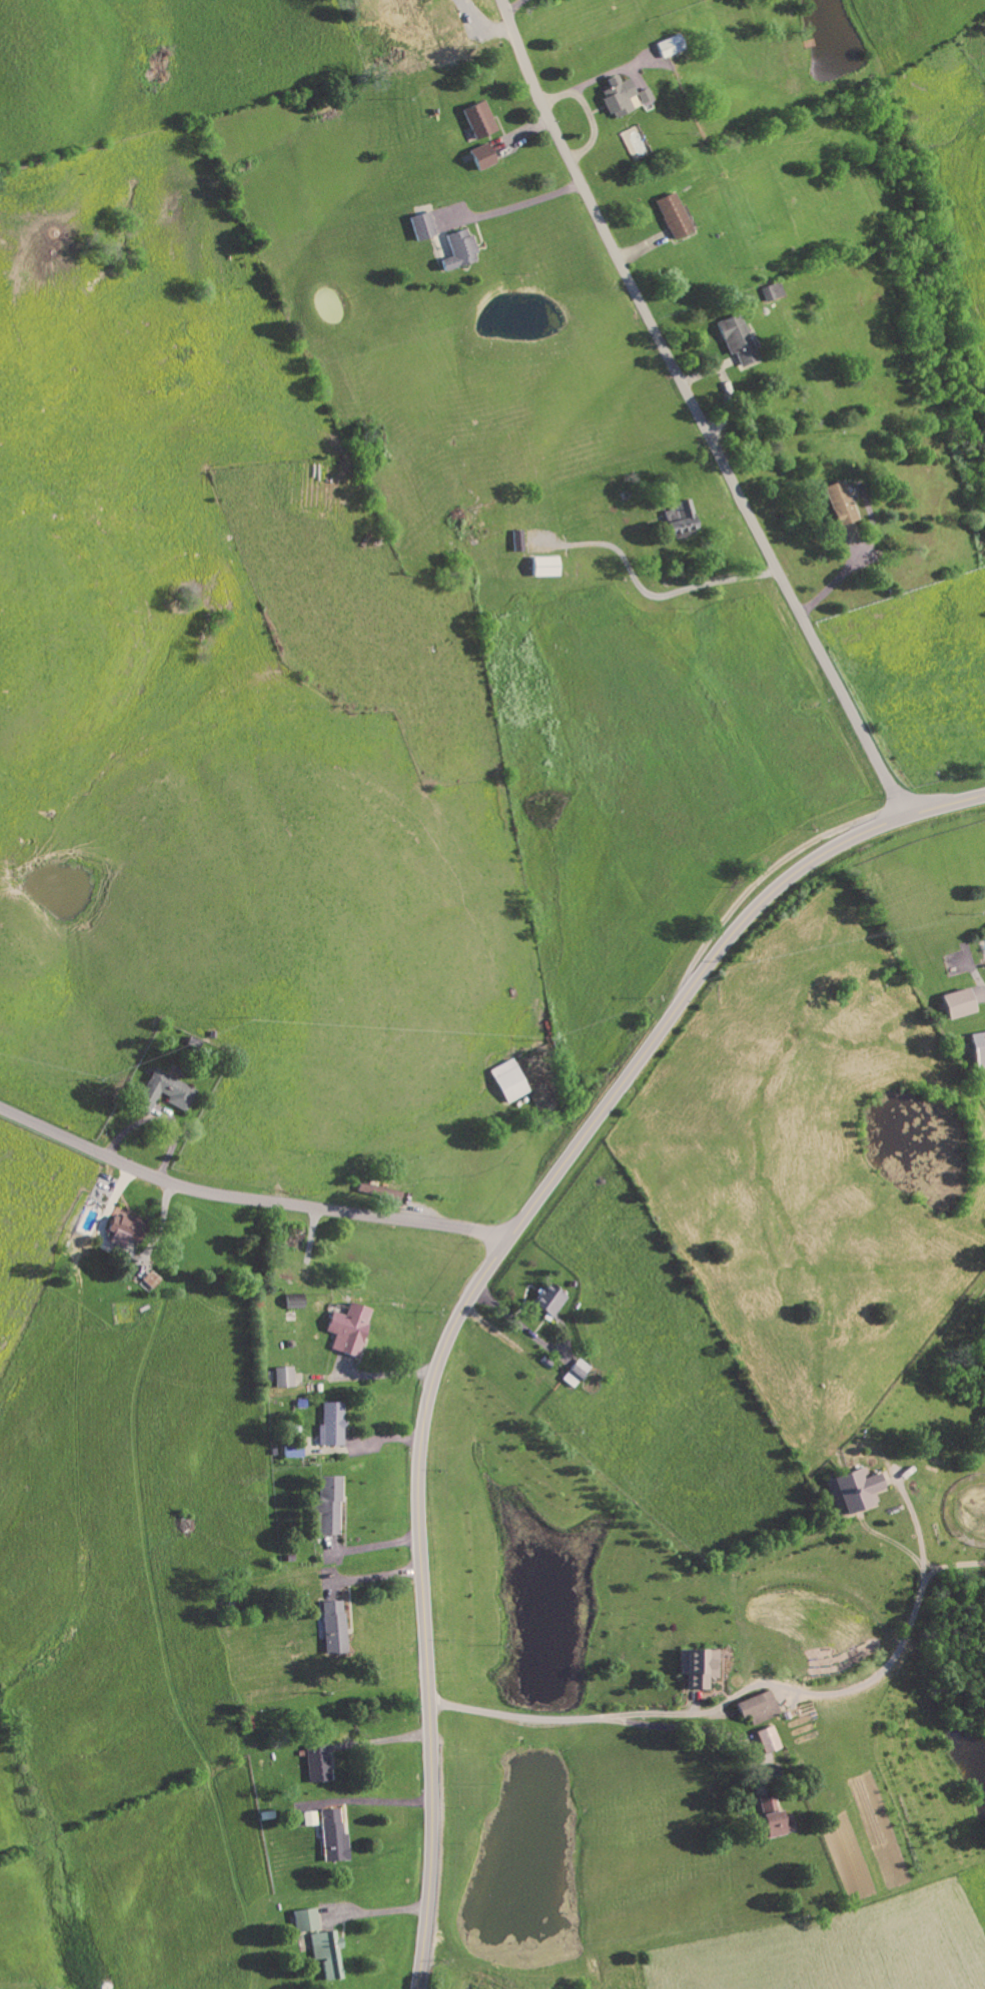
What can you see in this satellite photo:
road: (515, 6)
building: (668, 47)
building: (617, 97)
building: (645, 100)
building: (478, 120)
building: (481, 157)
road: (516, 206)
building: (672, 216)
building: (420, 227)
building: (458, 251)
building: (771, 292)
building: (736, 340)
road: (700, 409)
building: (838, 504)
building: (679, 521)
building: (544, 568)
road: (842, 575)
building: (956, 1005)
building: (978, 1051)
building: (508, 1083)
building: (162, 1094)
building: (377, 1193)
road: (247, 1198)
building: (124, 1231)
road: (481, 1279)
building: (151, 1281)
building: (546, 1302)
building: (346, 1330)
building: (576, 1374)
building: (283, 1379)
building: (329, 1426)
building: (292, 1452)
building: (852, 1491)
building: (327, 1507)
road: (374, 1550)
road: (374, 1580)
building: (332, 1627)
building: (698, 1667)
building: (757, 1708)
road: (563, 1722)
building: (767, 1740)
road: (382, 1743)
building: (762, 1756)
building: (316, 1764)
building: (308, 1819)
building: (774, 1819)
building: (331, 1836)
building: (304, 1921)
building: (326, 1954)

